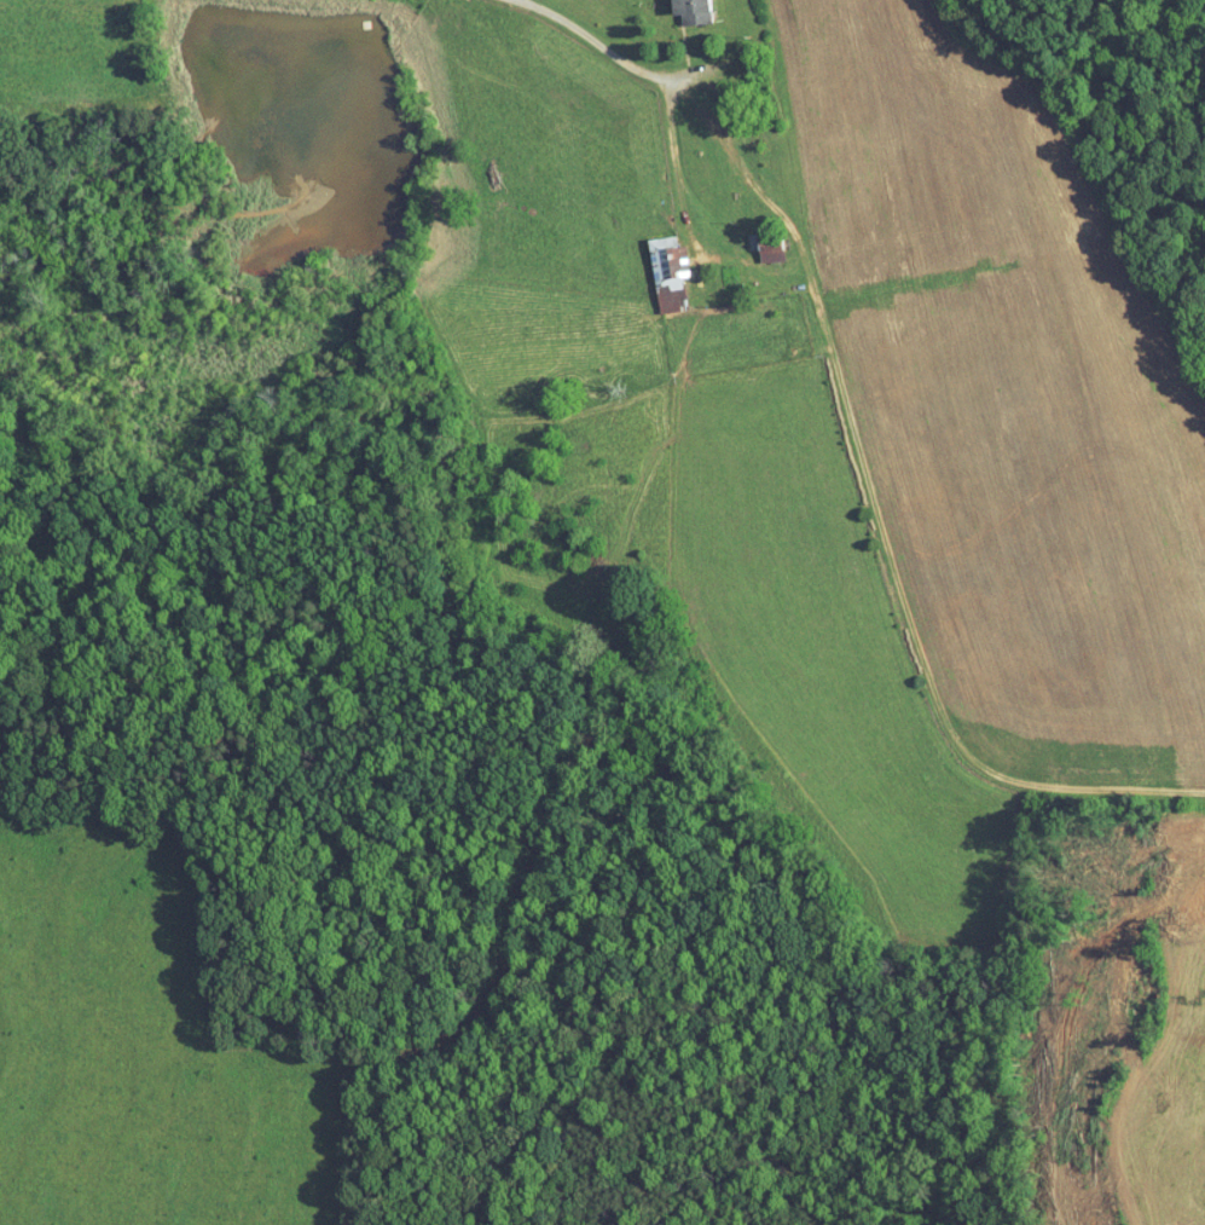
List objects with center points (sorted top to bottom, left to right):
building: (677, 7)
building: (754, 242)
building: (651, 264)

